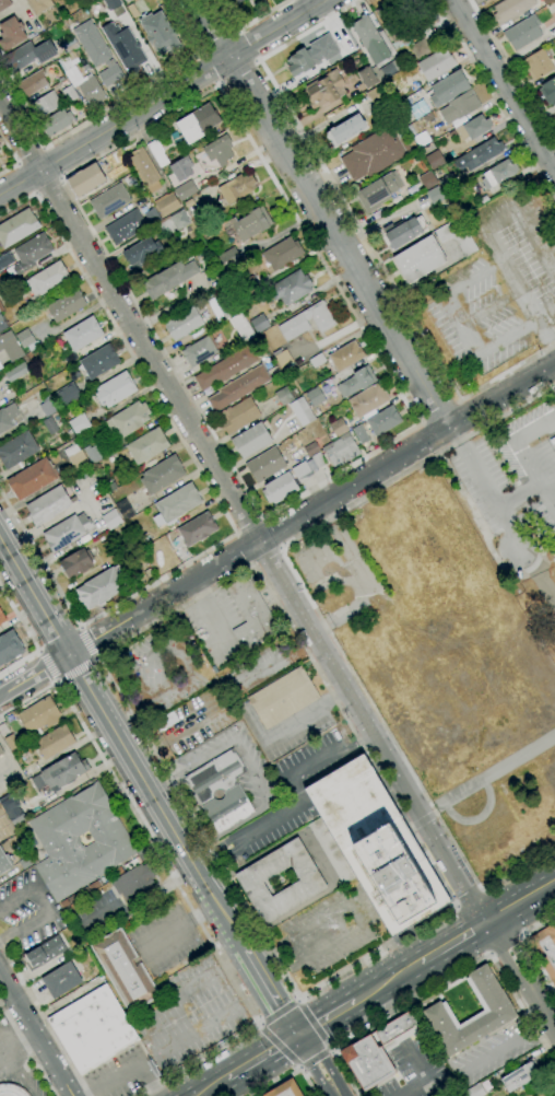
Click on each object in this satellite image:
building: (238, 1)
building: (545, 2)
building: (111, 3)
building: (4, 4)
building: (38, 5)
building: (510, 10)
building: (132, 11)
building: (424, 11)
road: (250, 22)
building: (393, 25)
road: (238, 30)
building: (11, 33)
building: (160, 33)
building: (522, 33)
building: (369, 39)
road: (219, 43)
building: (70, 45)
building: (125, 47)
road: (245, 47)
building: (421, 48)
building: (97, 53)
road: (200, 53)
building: (31, 55)
building: (71, 55)
building: (311, 55)
road: (256, 60)
building: (436, 63)
building: (538, 65)
road: (211, 66)
building: (391, 68)
road: (236, 70)
road: (512, 71)
building: (367, 77)
building: (33, 82)
road: (220, 84)
road: (505, 84)
building: (448, 88)
building: (324, 90)
building: (91, 91)
building: (548, 91)
building: (69, 94)
building: (375, 95)
road: (163, 98)
road: (495, 101)
building: (46, 104)
road: (111, 105)
building: (459, 107)
building: (418, 109)
building: (554, 114)
building: (428, 117)
building: (56, 123)
building: (197, 123)
building: (474, 127)
building: (345, 130)
building: (451, 135)
building: (0, 139)
building: (0, 145)
road: (42, 147)
building: (427, 148)
building: (219, 150)
building: (375, 152)
building: (157, 153)
building: (480, 153)
road: (28, 155)
road: (13, 156)
building: (435, 160)
road: (16, 163)
road: (50, 163)
building: (144, 170)
building: (498, 174)
road: (26, 177)
road: (60, 178)
building: (85, 179)
building: (427, 179)
building: (447, 183)
road: (47, 185)
building: (237, 188)
building: (186, 190)
building: (379, 191)
road: (35, 193)
building: (435, 196)
building: (109, 201)
building: (167, 203)
building: (447, 208)
building: (152, 217)
building: (178, 221)
road: (488, 221)
building: (250, 223)
building: (125, 226)
road: (357, 226)
building: (17, 228)
building: (403, 233)
building: (457, 235)
building: (142, 252)
building: (31, 253)
building: (282, 253)
building: (228, 259)
building: (418, 259)
building: (5, 260)
road: (357, 272)
building: (169, 278)
building: (47, 279)
building: (5, 283)
building: (248, 287)
road: (458, 287)
building: (291, 288)
building: (66, 305)
road: (488, 306)
building: (227, 308)
road: (543, 308)
building: (185, 322)
building: (296, 322)
building: (259, 323)
building: (2, 324)
building: (241, 327)
building: (83, 334)
road: (543, 336)
building: (26, 340)
building: (10, 346)
road: (491, 346)
building: (199, 351)
building: (345, 355)
building: (283, 359)
building: (317, 360)
building: (98, 361)
building: (0, 366)
building: (226, 368)
building: (16, 372)
building: (356, 382)
building: (238, 387)
building: (115, 389)
building: (554, 389)
building: (68, 394)
building: (284, 395)
building: (315, 397)
building: (367, 399)
road: (457, 401)
building: (48, 407)
building: (302, 411)
road: (438, 413)
building: (238, 415)
building: (7, 417)
building: (128, 419)
building: (383, 421)
building: (79, 423)
road: (418, 423)
road: (415, 424)
building: (50, 425)
building: (338, 428)
building: (361, 433)
building: (251, 440)
road: (515, 440)
building: (146, 446)
building: (311, 448)
building: (17, 450)
building: (341, 451)
building: (92, 453)
building: (76, 458)
building: (318, 459)
building: (265, 464)
building: (302, 471)
building: (162, 474)
parking lot: (513, 475)
building: (32, 479)
building: (110, 487)
building: (279, 487)
road: (210, 489)
road: (546, 489)
road: (342, 491)
road: (517, 493)
building: (176, 504)
building: (48, 505)
building: (125, 510)
road: (241, 512)
road: (262, 517)
building: (111, 520)
road: (249, 526)
building: (198, 528)
building: (67, 532)
road: (483, 532)
road: (235, 533)
road: (269, 534)
road: (245, 548)
road: (279, 548)
road: (264, 555)
road: (545, 561)
building: (76, 562)
road: (253, 563)
road: (331, 571)
road: (363, 578)
road: (543, 582)
building: (101, 587)
road: (206, 608)
building: (250, 614)
building: (2, 617)
road: (319, 619)
building: (0, 625)
road: (80, 626)
road: (98, 636)
road: (28, 637)
road: (86, 642)
building: (9, 646)
road: (37, 651)
road: (95, 657)
road: (47, 666)
road: (74, 668)
road: (36, 673)
road: (56, 683)
road: (2, 693)
building: (283, 698)
building: (39, 715)
road: (295, 720)
building: (11, 742)
building: (55, 742)
road: (121, 744)
building: (1, 750)
road: (249, 769)
road: (493, 770)
building: (61, 772)
building: (215, 777)
road: (305, 804)
building: (11, 808)
building: (227, 809)
road: (433, 813)
road: (477, 817)
road: (421, 819)
road: (411, 827)
building: (7, 830)
building: (80, 841)
building: (377, 846)
building: (331, 851)
building: (4, 862)
building: (251, 881)
building: (133, 883)
road: (178, 885)
road: (465, 896)
road: (521, 900)
road: (141, 901)
road: (452, 903)
road: (352, 914)
parking lot: (330, 930)
building: (551, 932)
parking lot: (165, 938)
road: (452, 941)
road: (528, 949)
building: (44, 952)
building: (544, 953)
building: (125, 970)
railway: (393, 973)
road: (522, 973)
building: (61, 980)
road: (386, 981)
road: (441, 981)
railway: (397, 982)
building: (210, 991)
road: (270, 992)
road: (300, 1000)
road: (19, 1004)
building: (498, 1011)
road: (279, 1012)
parking lot: (189, 1014)
building: (224, 1016)
road: (326, 1018)
road: (45, 1019)
road: (259, 1023)
road: (312, 1025)
building: (92, 1028)
traffic signals: (298, 1035)
road: (144, 1039)
road: (26, 1042)
road: (277, 1043)
road: (507, 1043)
road: (27, 1048)
road: (330, 1049)
road: (19, 1051)
building: (375, 1051)
road: (262, 1057)
road: (316, 1058)
road: (319, 1064)
road: (55, 1065)
road: (298, 1066)
road: (302, 1068)
parking lot: (417, 1068)
road: (126, 1069)
road: (291, 1073)
parking lot: (120, 1074)
road: (427, 1076)
building: (519, 1076)
road: (21, 1081)
railway: (211, 1083)
railway: (222, 1086)
road: (211, 1087)
building: (12, 1089)
building: (285, 1089)
building: (474, 1091)

